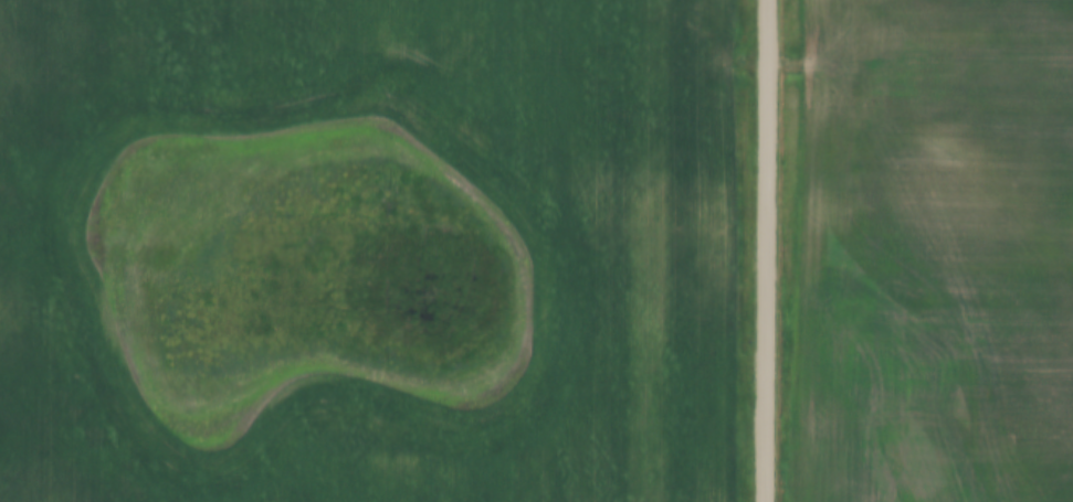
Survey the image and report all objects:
road: (766, 250)

